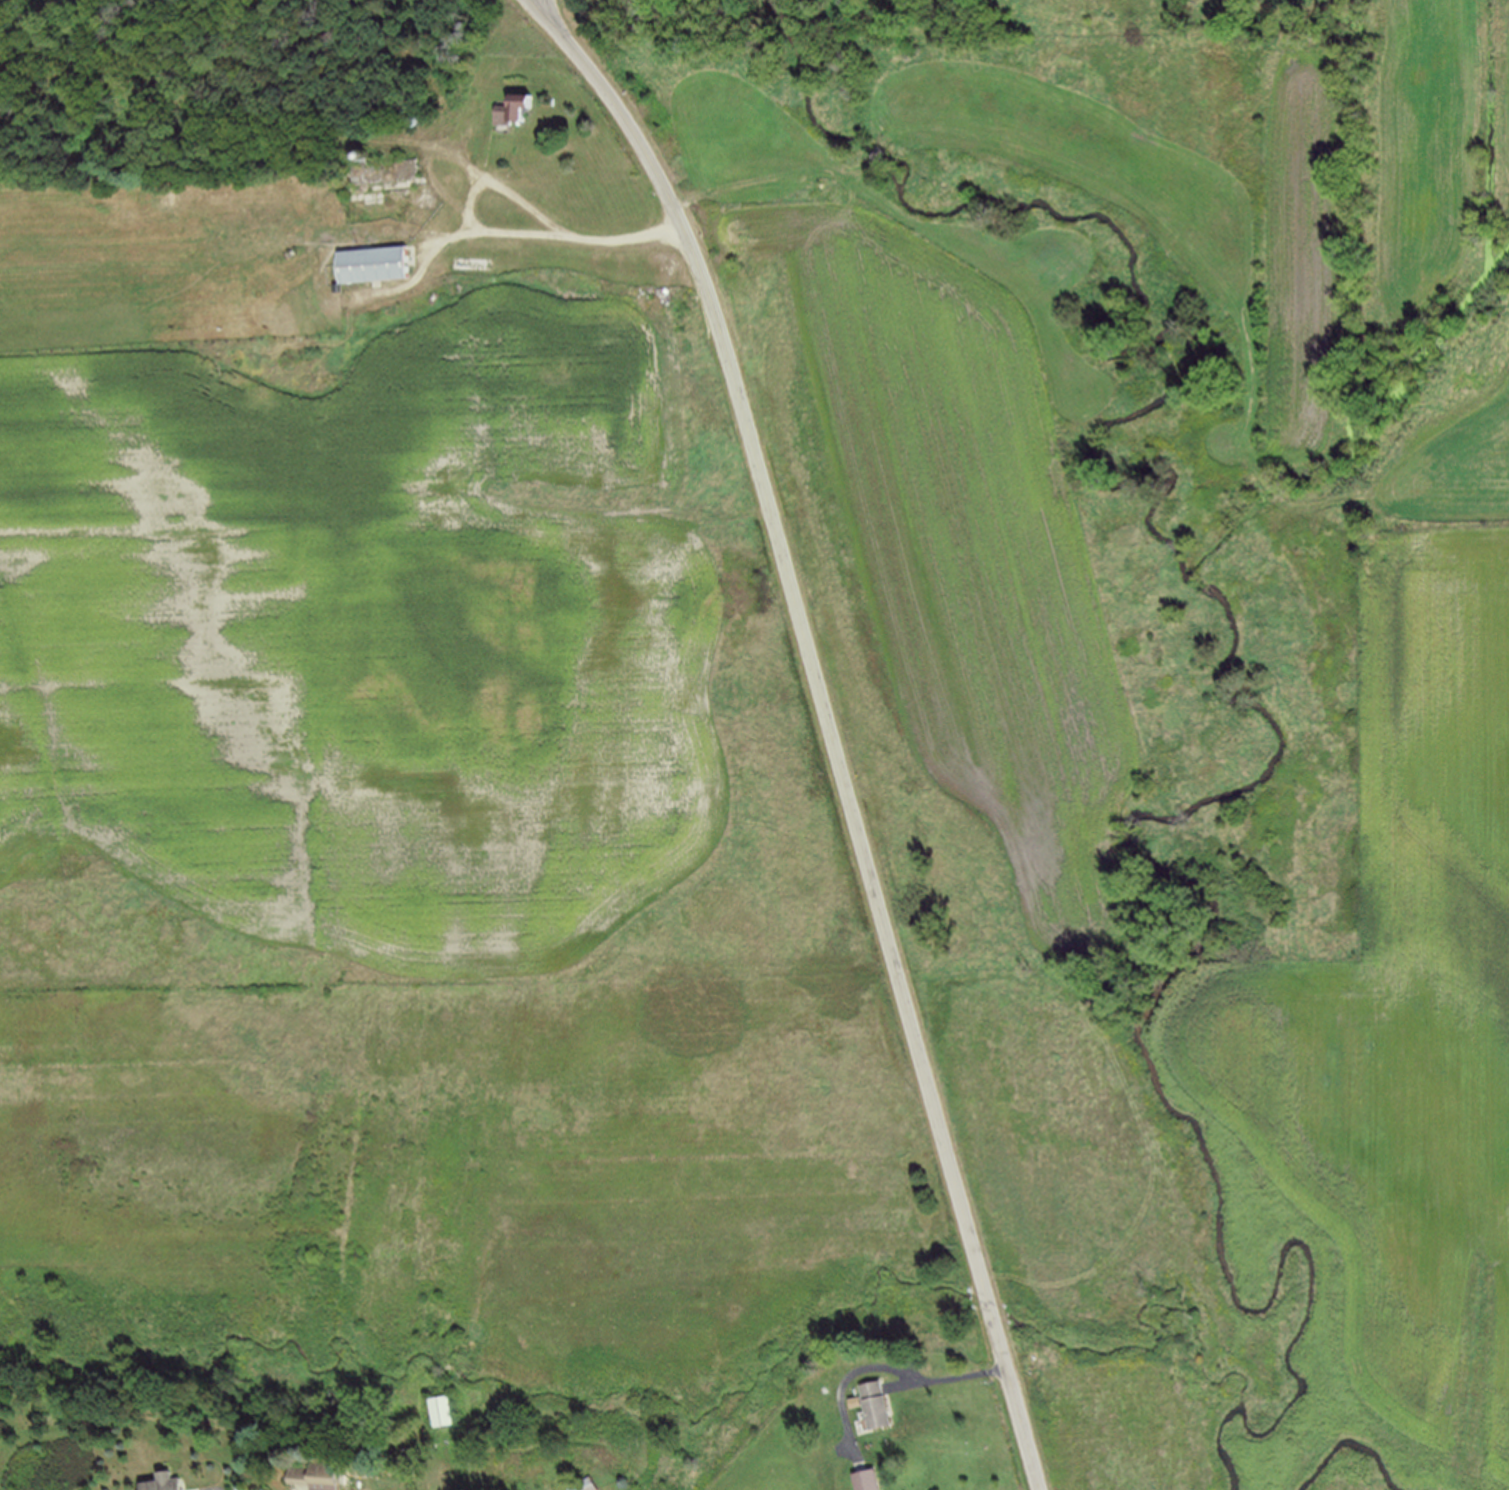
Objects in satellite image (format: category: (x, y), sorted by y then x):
road: (535, 3)
building: (507, 110)
road: (246, 118)
road: (874, 154)
road: (771, 171)
building: (375, 174)
road: (511, 194)
building: (472, 256)
road: (1189, 262)
building: (368, 265)
road: (415, 278)
river: (1260, 710)
road: (827, 724)
road: (952, 1377)
road: (840, 1383)
building: (883, 1403)
building: (447, 1410)
river: (1351, 1445)
building: (319, 1479)
building: (870, 1481)
building: (172, 1484)
building: (593, 1486)

